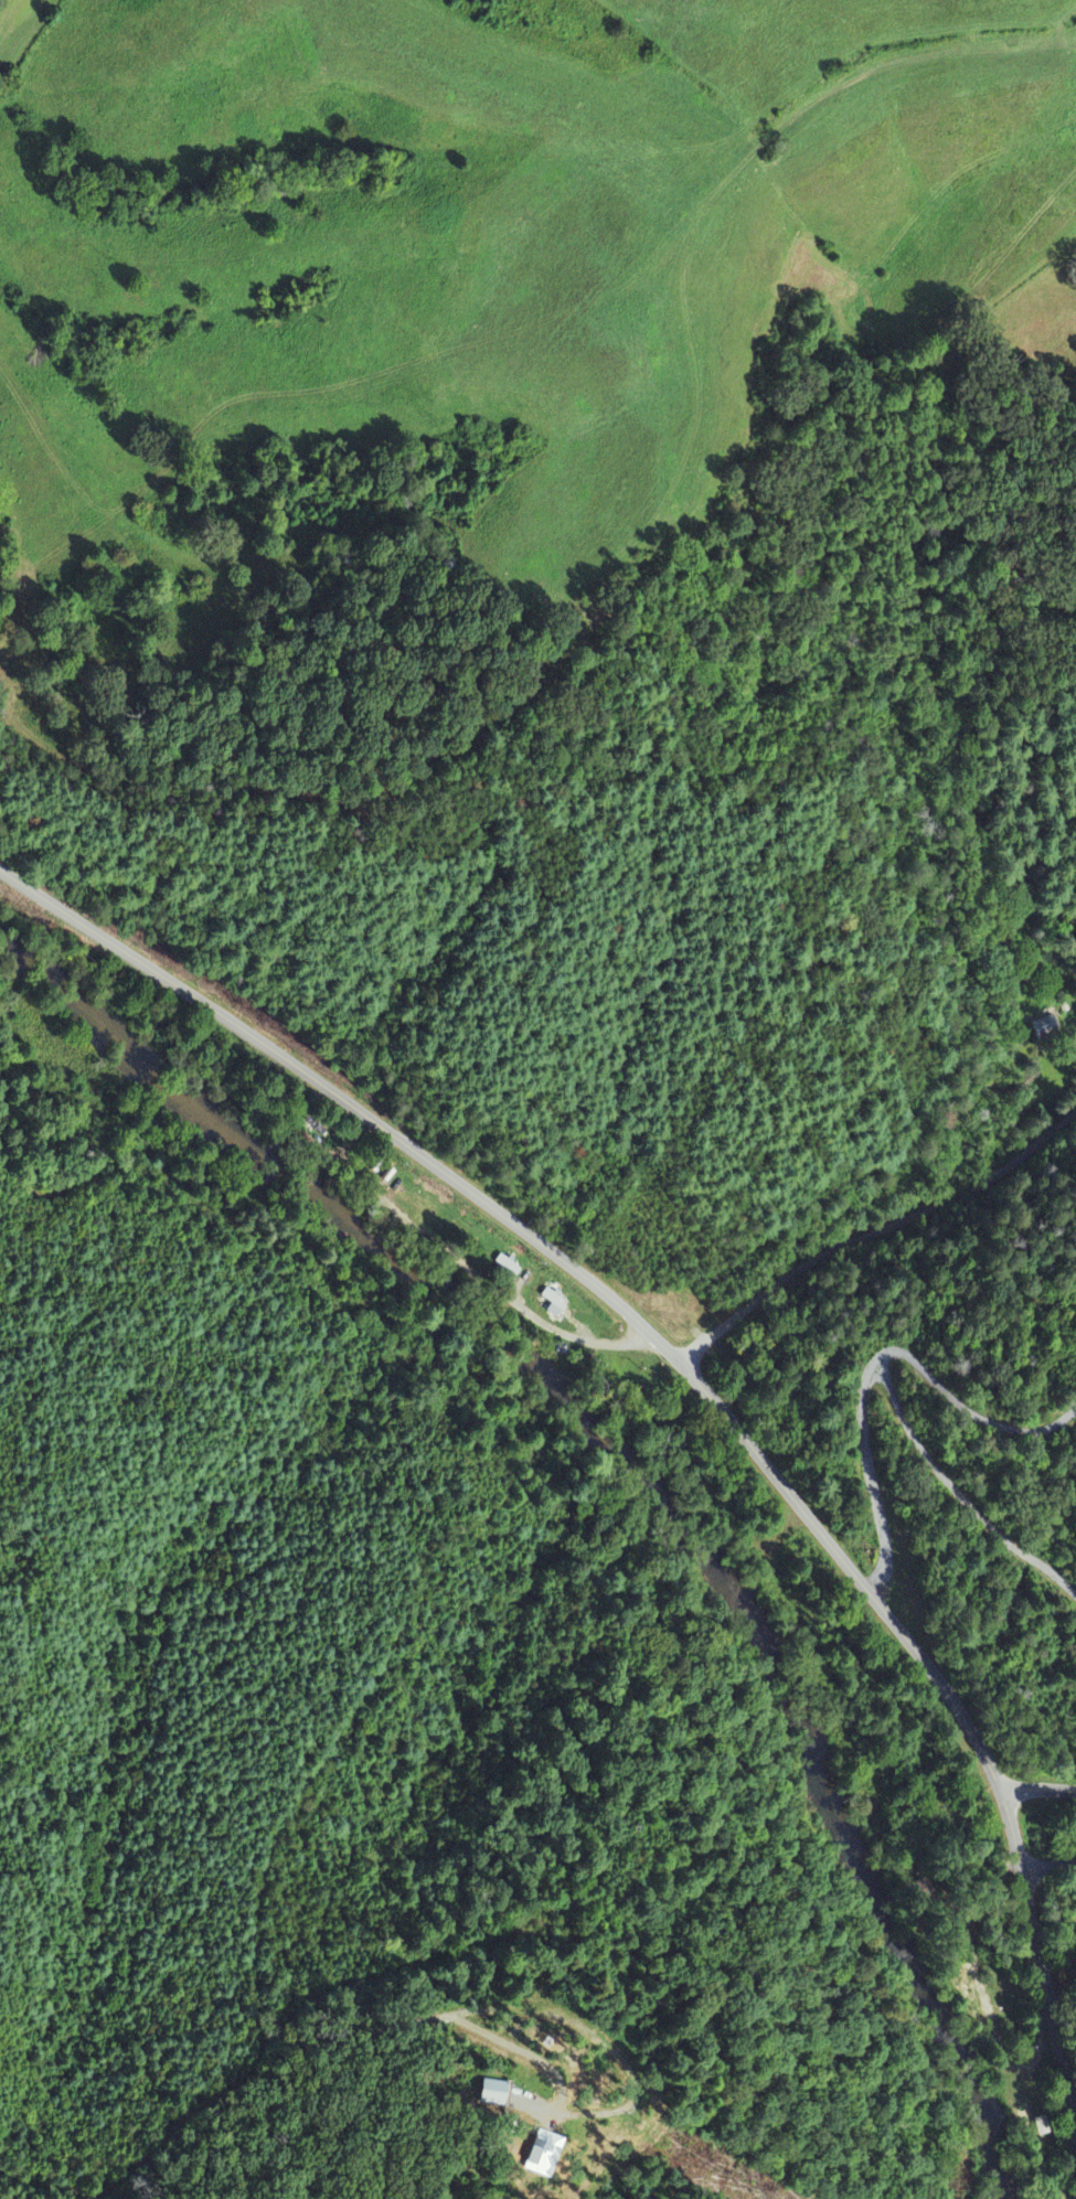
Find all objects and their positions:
road: (2, 4)
building: (1044, 1028)
road: (874, 1229)
building: (507, 1266)
building: (552, 1303)
road: (694, 1377)
road: (1036, 1786)
road: (1048, 1864)
building: (491, 2092)
building: (542, 2154)

